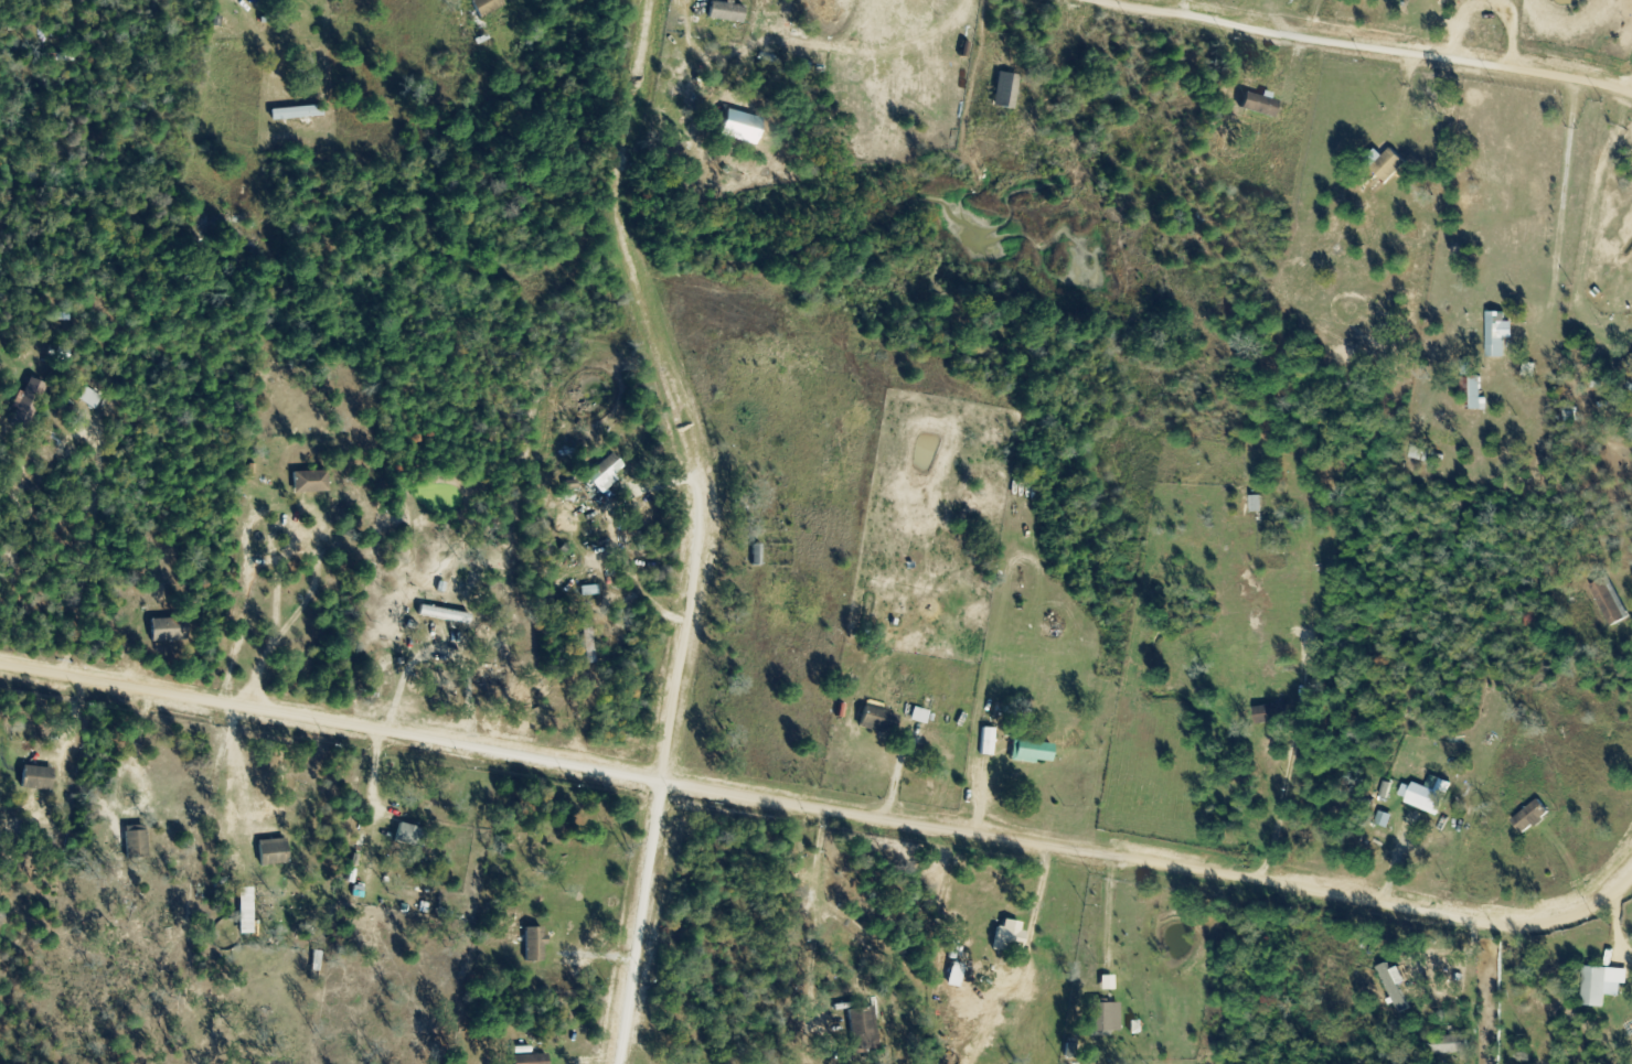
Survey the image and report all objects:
building: (1455, 0)
building: (484, 6)
building: (724, 11)
building: (230, 25)
road: (1367, 46)
building: (1004, 90)
building: (1257, 104)
building: (295, 112)
building: (1387, 165)
building: (1496, 334)
building: (55, 352)
building: (1625, 369)
building: (1474, 393)
building: (24, 410)
building: (313, 430)
building: (602, 472)
building: (308, 482)
building: (1255, 504)
building: (768, 507)
road: (701, 528)
building: (751, 555)
building: (1607, 601)
building: (436, 610)
building: (167, 630)
building: (585, 642)
building: (1271, 713)
building: (876, 721)
building: (986, 741)
building: (1030, 751)
building: (35, 778)
building: (1427, 795)
road: (820, 805)
building: (1528, 817)
building: (409, 836)
building: (134, 841)
building: (1007, 936)
building: (533, 944)
building: (1593, 987)
building: (1097, 1014)
building: (861, 1027)
building: (1449, 1044)
building: (527, 1058)
building: (680, 1063)

